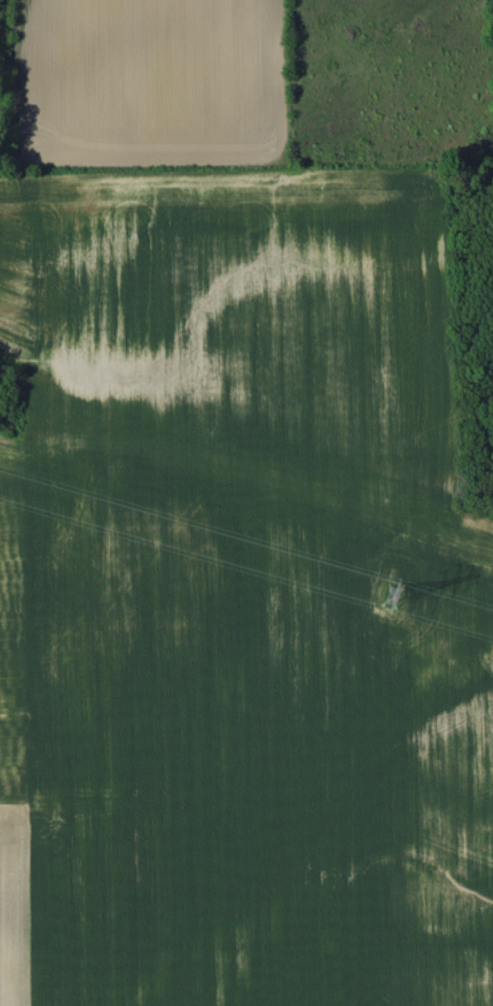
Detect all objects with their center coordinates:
power tower: (398, 591)

